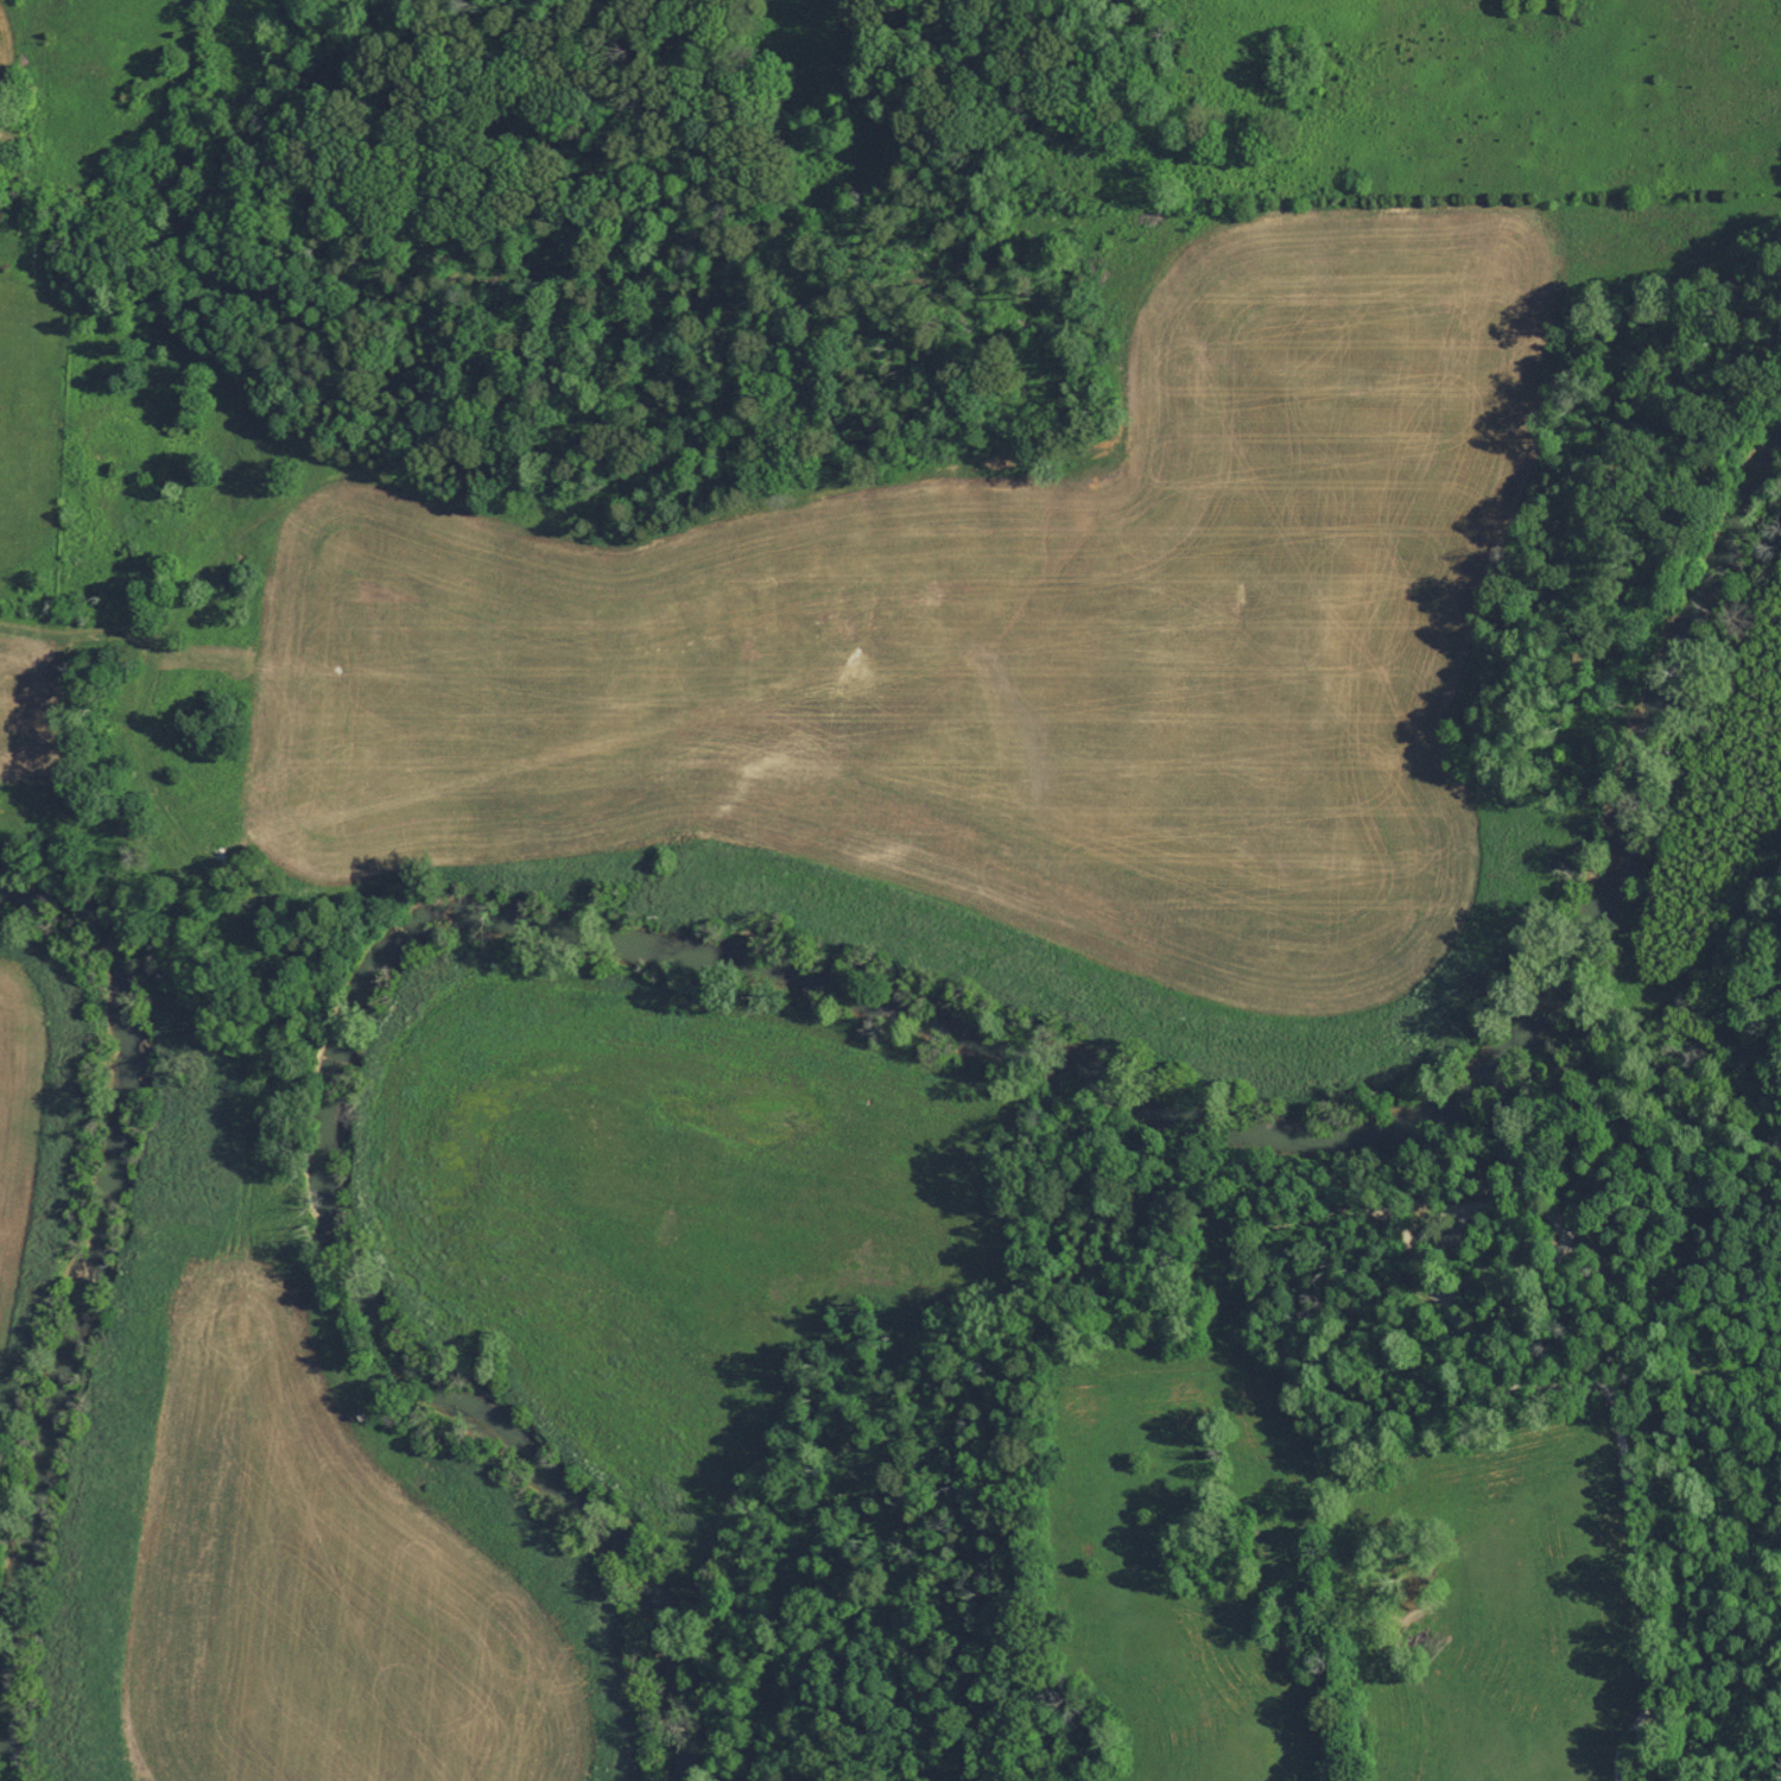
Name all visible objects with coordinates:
river: (817, 980)
river: (85, 1256)
river: (7, 1758)

